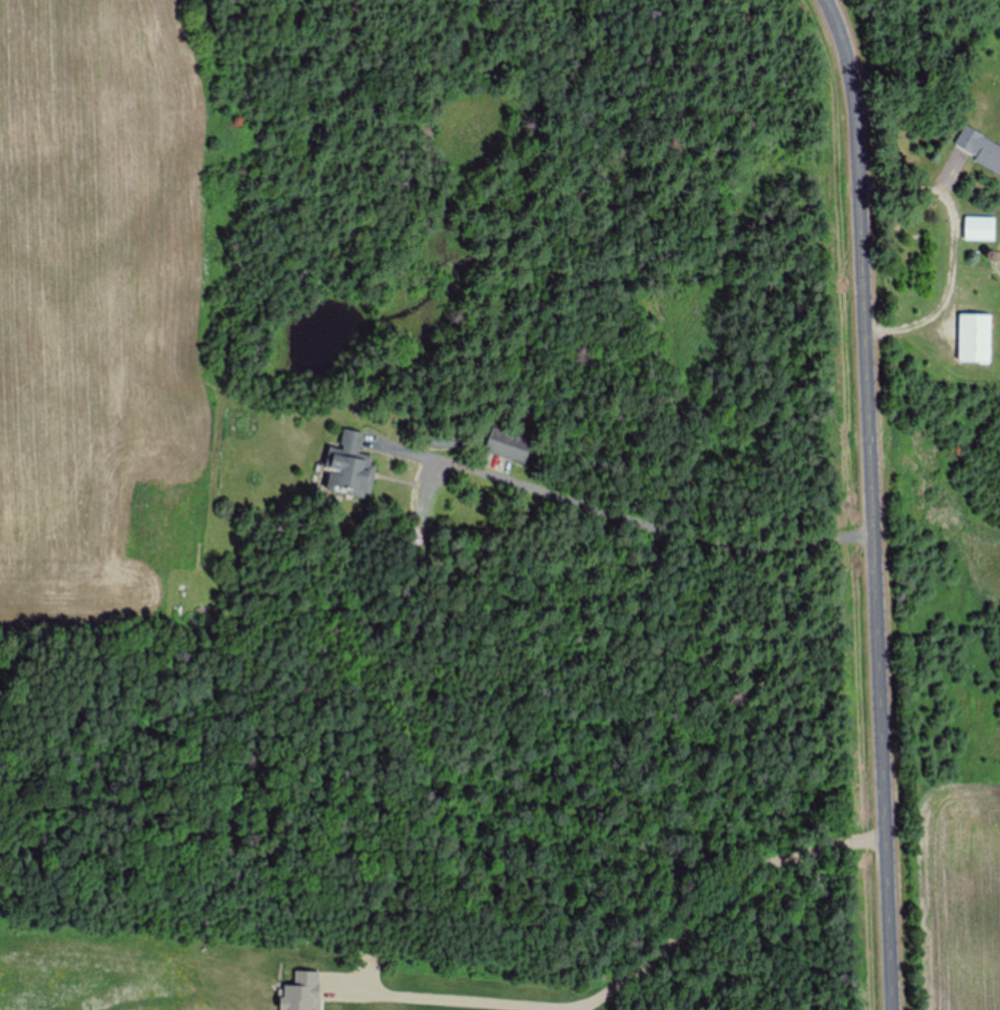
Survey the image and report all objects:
building: (979, 149)
building: (980, 229)
building: (975, 338)
building: (509, 446)
building: (350, 467)
road: (868, 502)

